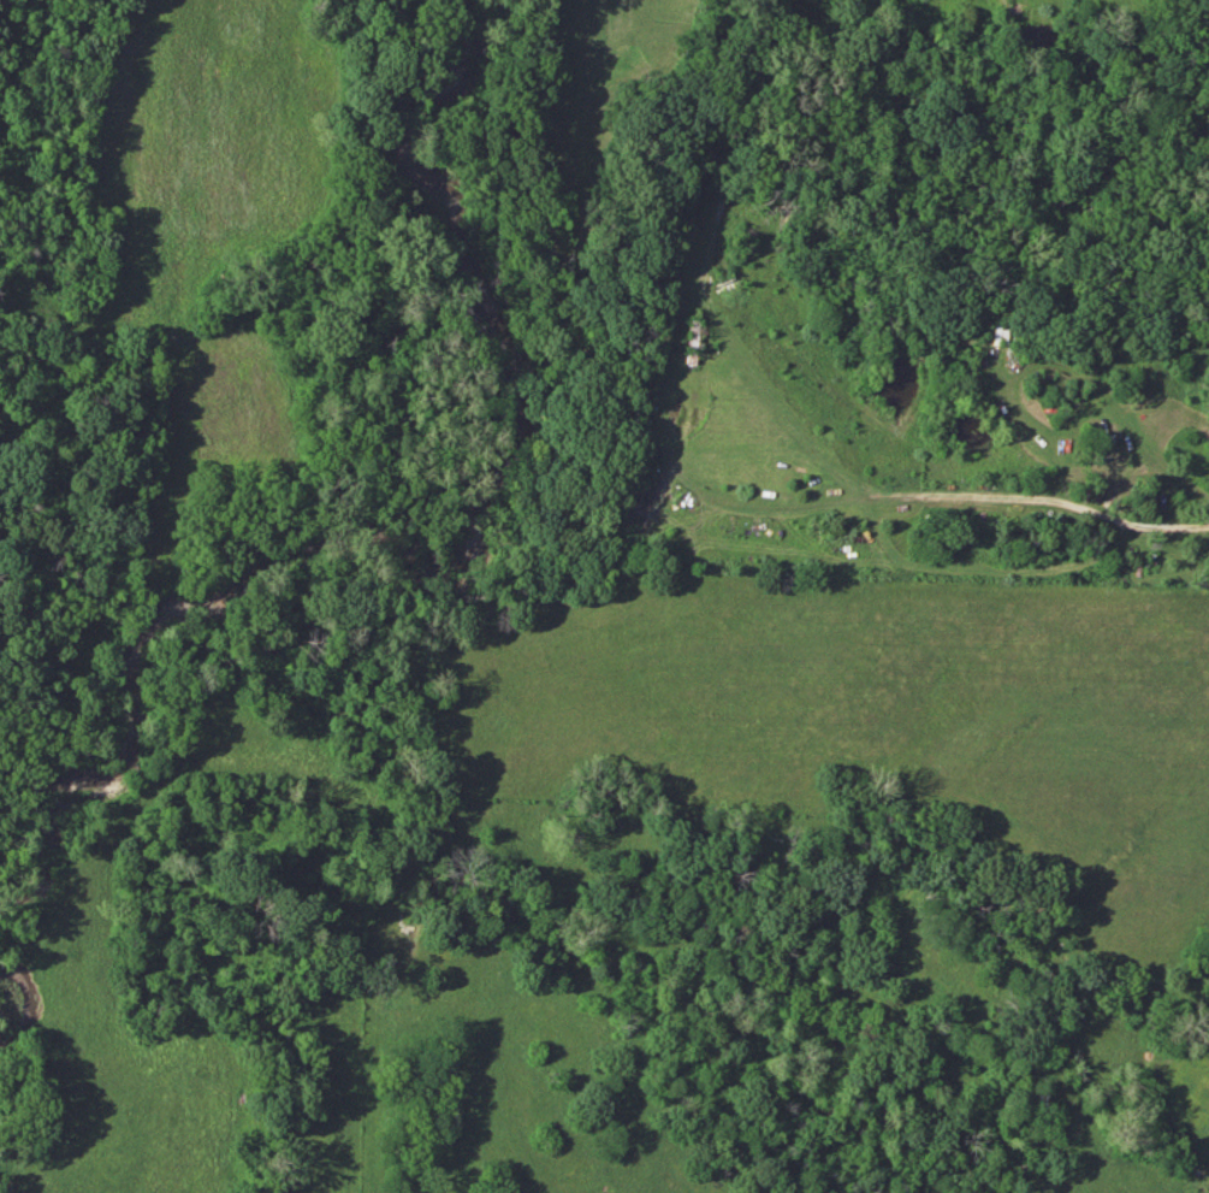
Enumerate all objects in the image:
building: (997, 338)

